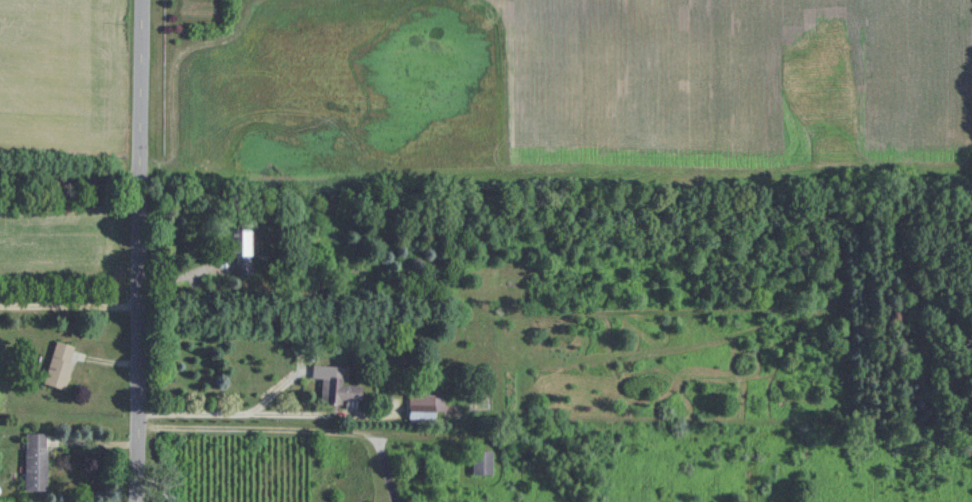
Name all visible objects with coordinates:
road: (72, 181)
road: (144, 251)
building: (242, 253)
road: (72, 306)
building: (58, 365)
building: (339, 391)
building: (421, 407)
road: (224, 414)
road: (289, 429)
building: (36, 461)
building: (482, 462)

